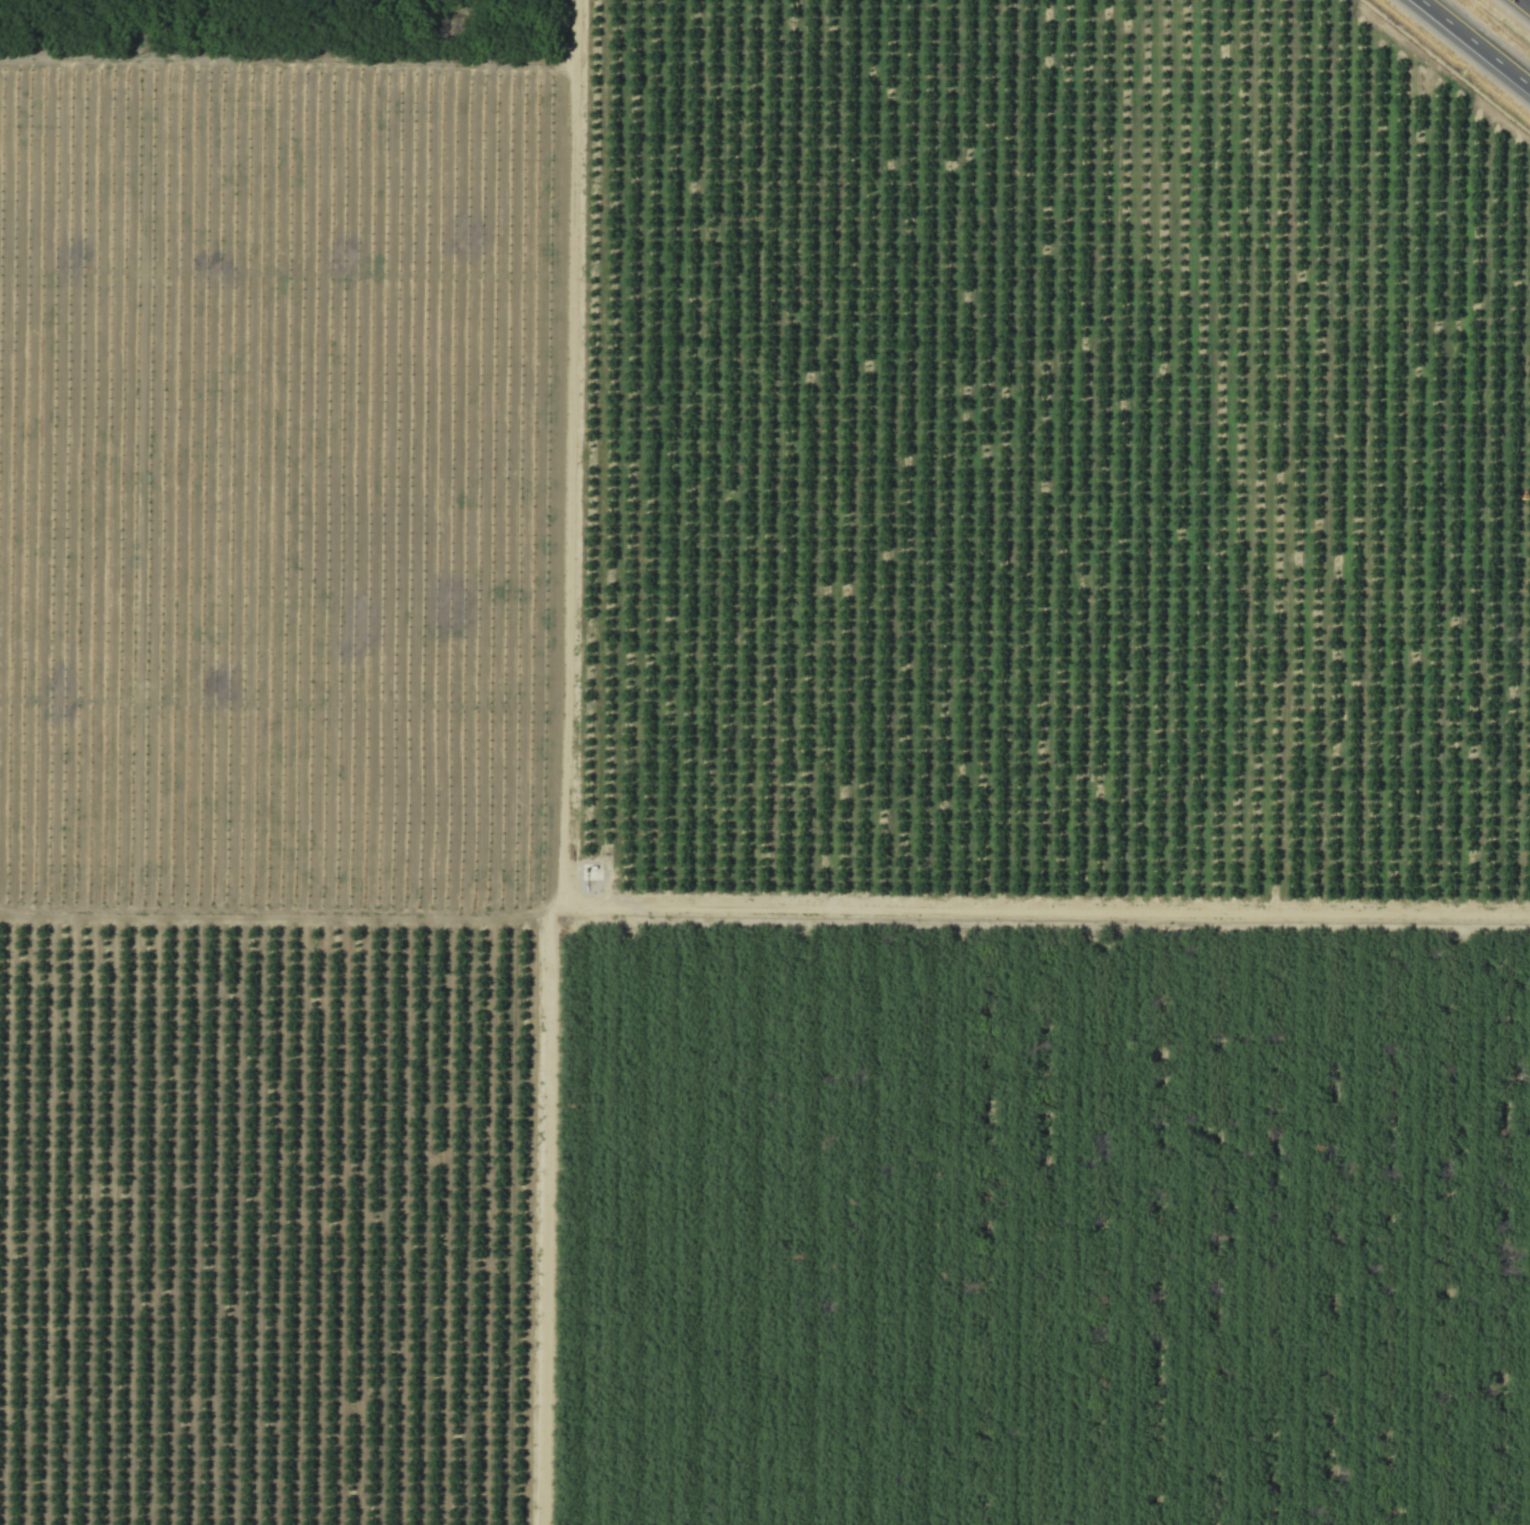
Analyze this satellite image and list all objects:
road: (1523, 5)
road: (1473, 45)

